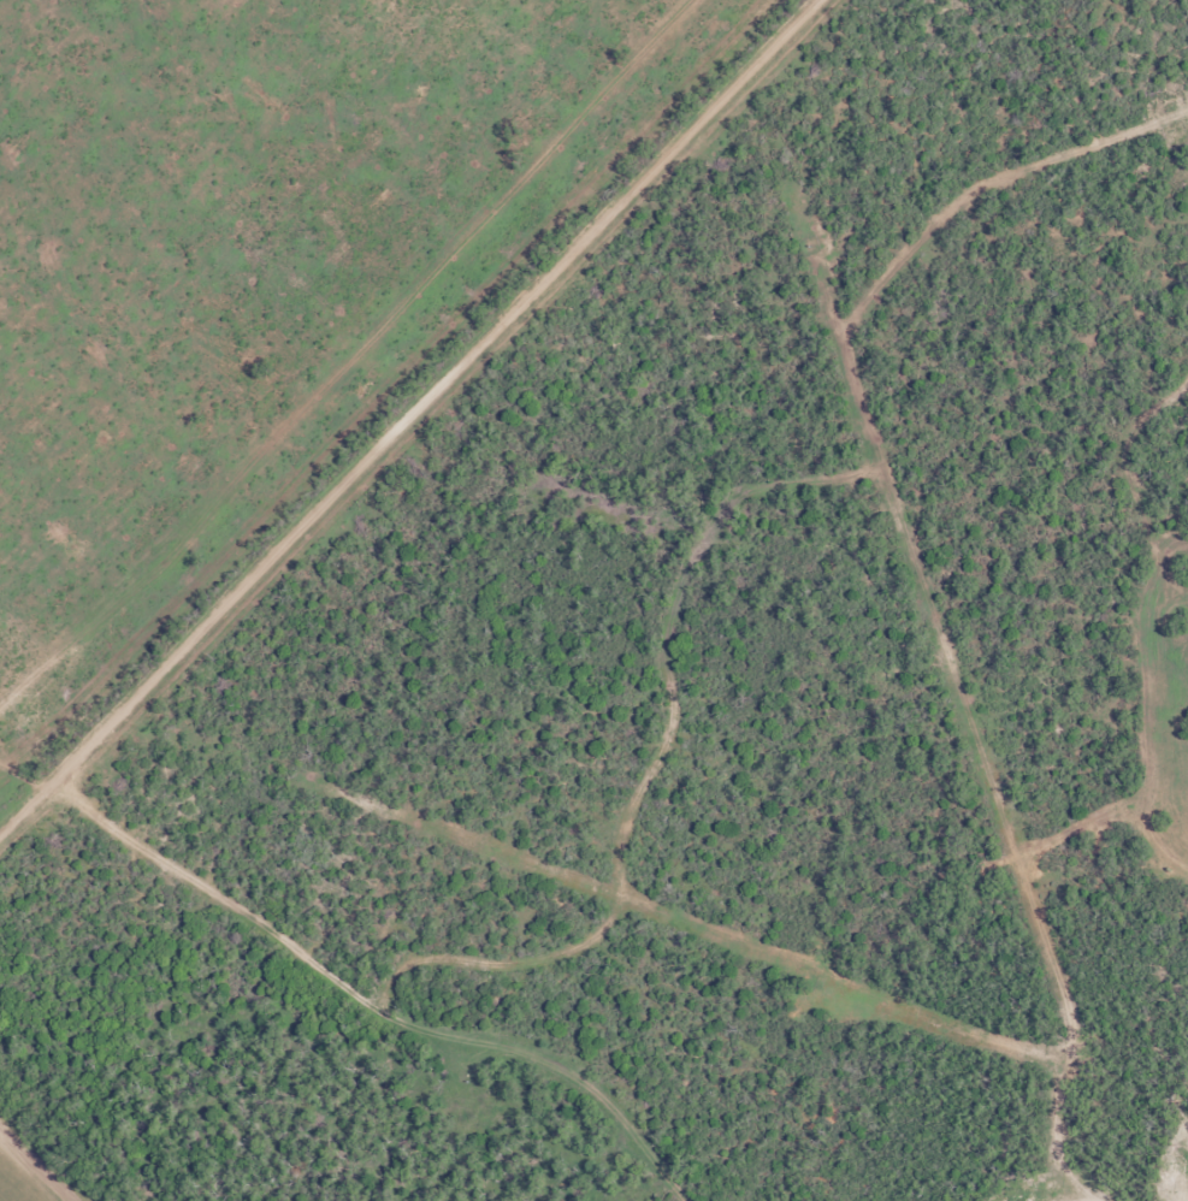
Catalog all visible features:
road: (428, 408)
road: (82, 868)
road: (386, 978)

